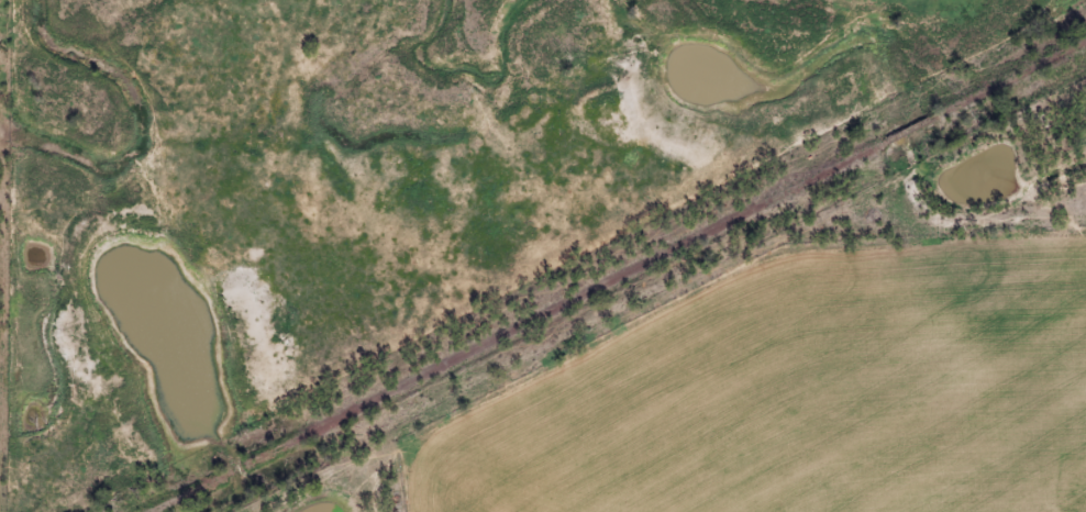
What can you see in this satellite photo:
railway: (621, 277)

